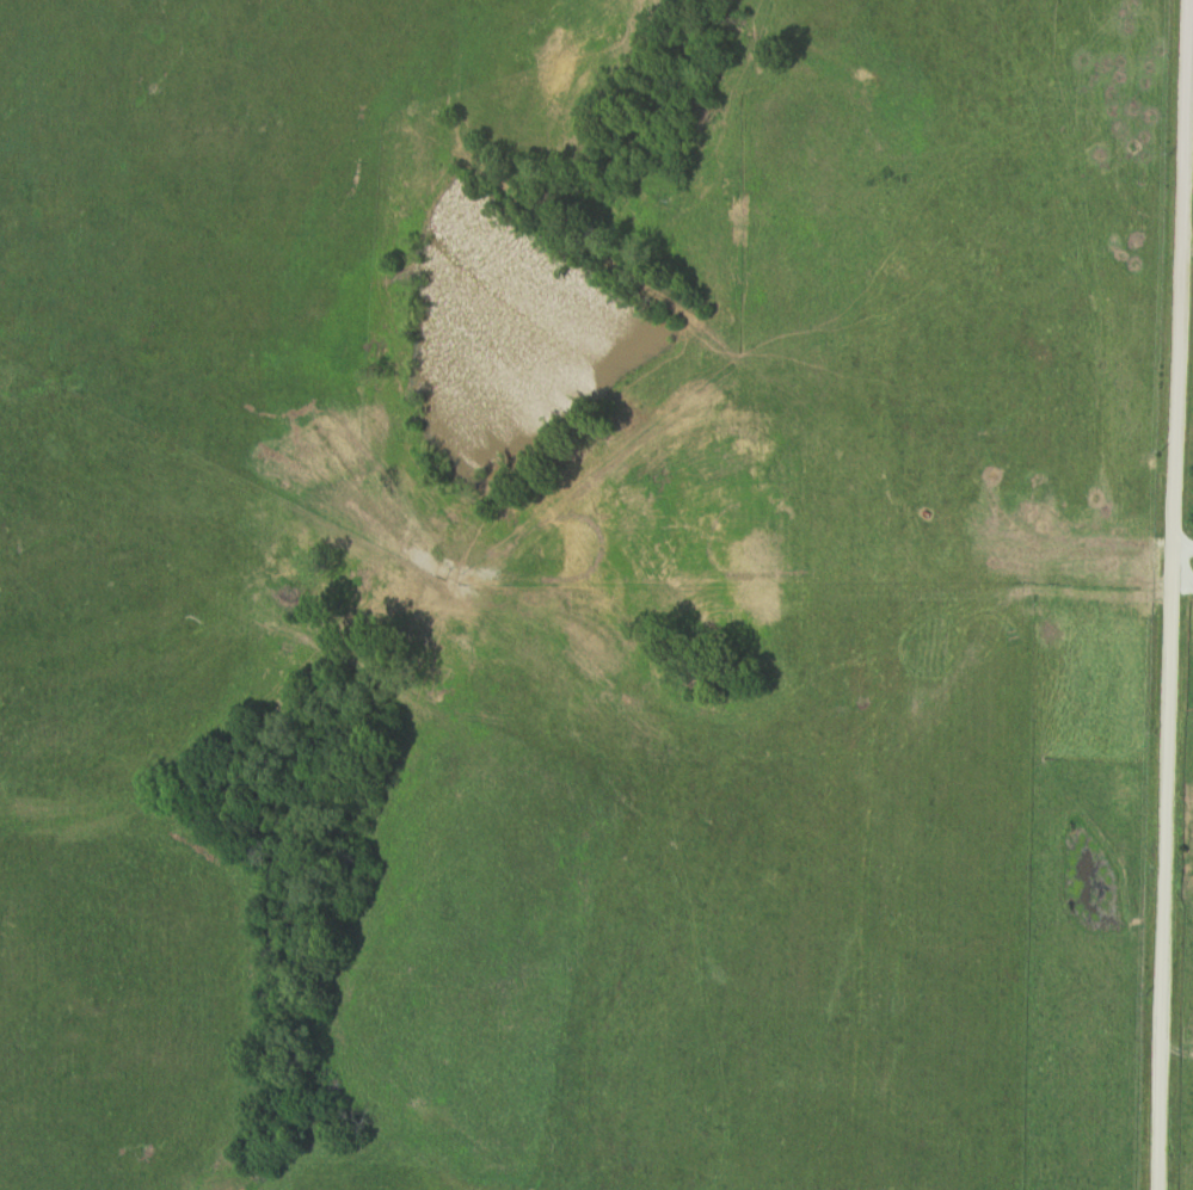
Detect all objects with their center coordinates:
road: (1168, 594)

